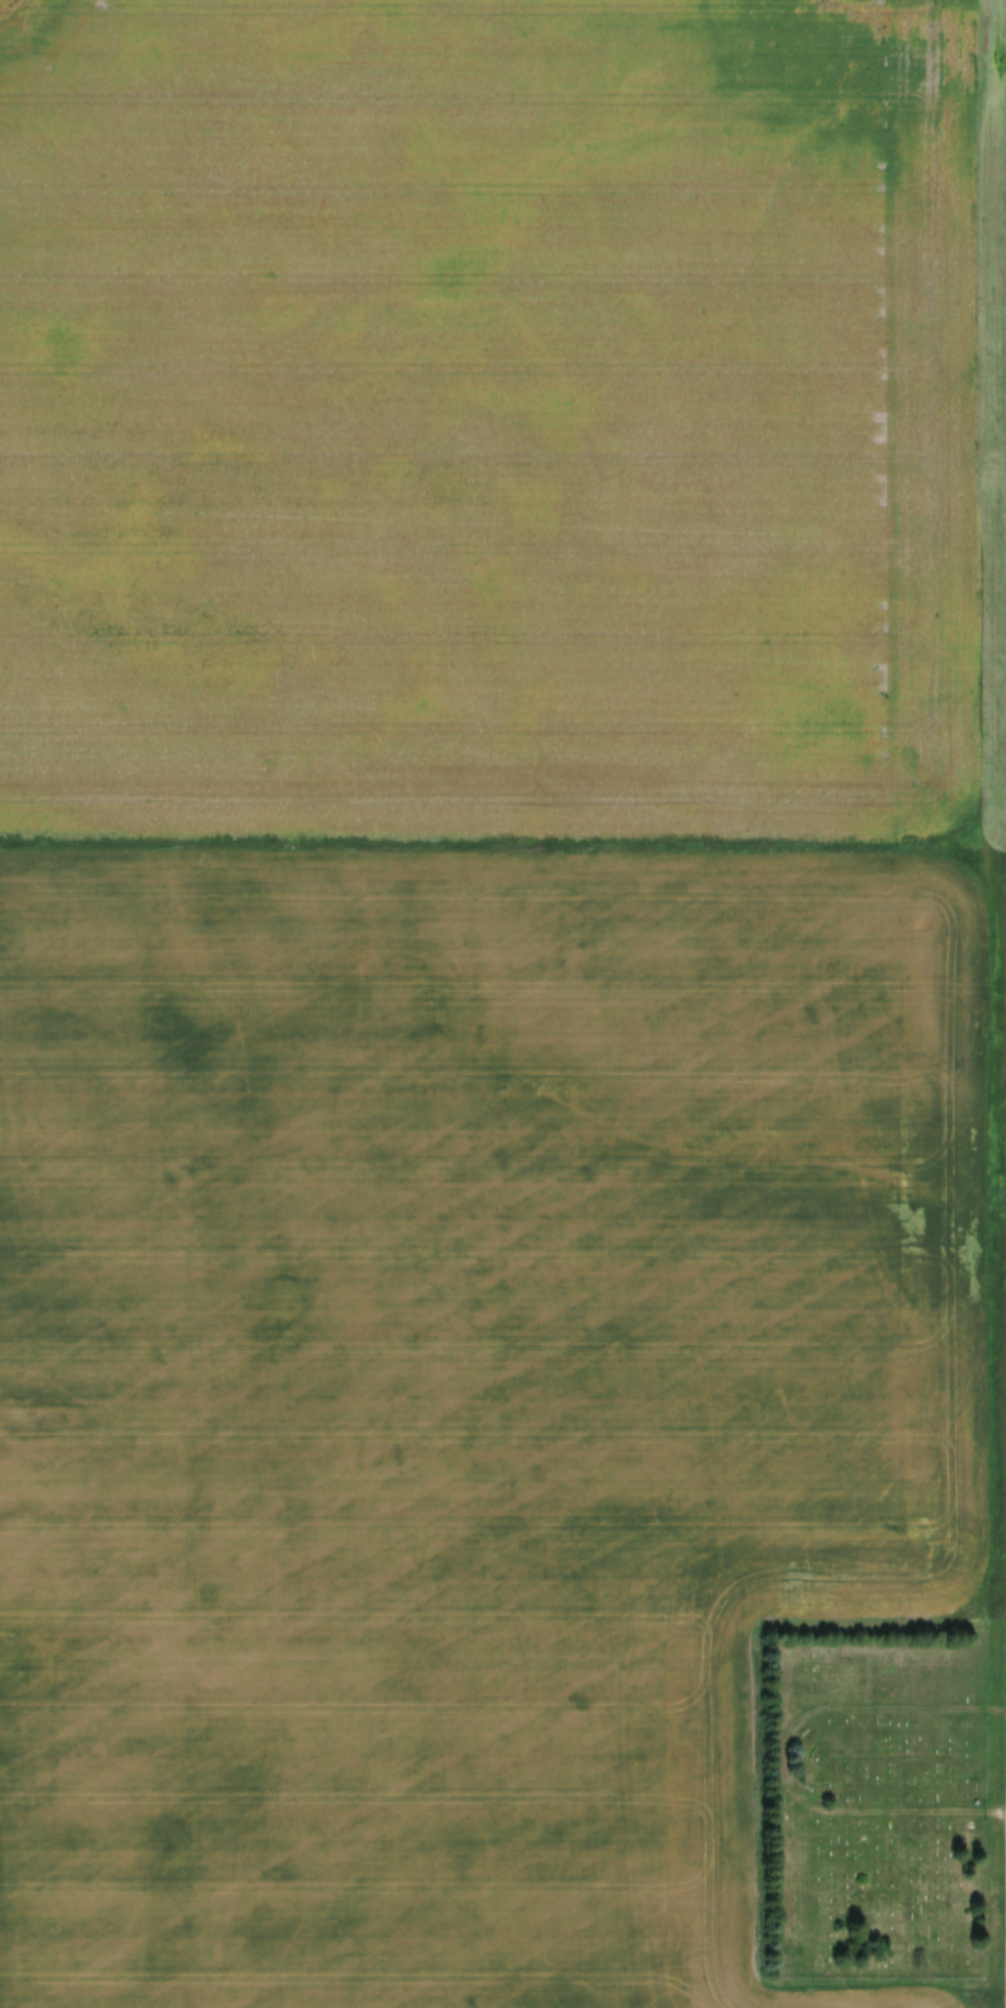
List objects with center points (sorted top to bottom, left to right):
road: (791, 1759)
park: (876, 1793)

